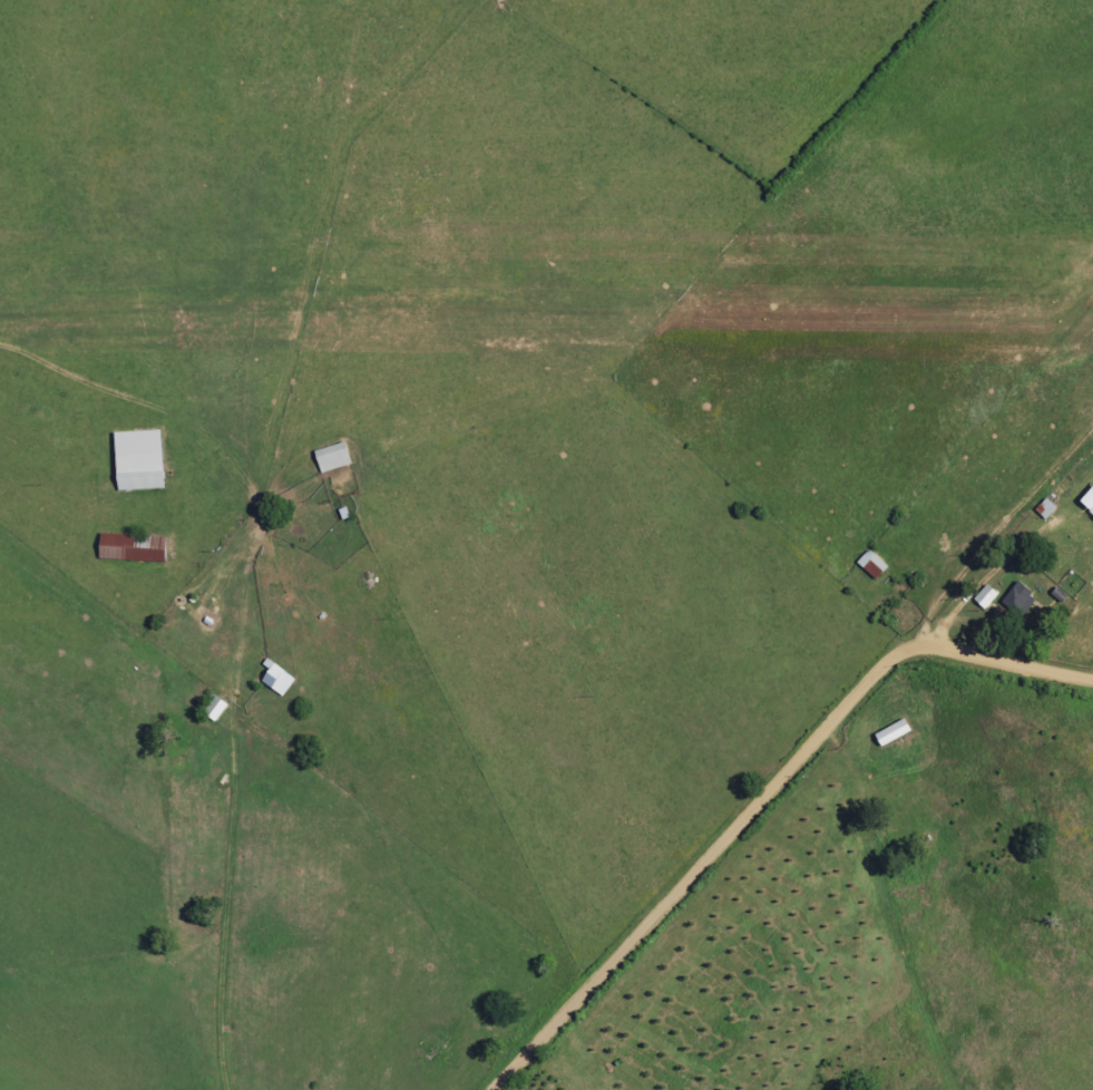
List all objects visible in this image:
building: (137, 548)
building: (871, 565)
road: (969, 585)
building: (984, 597)
building: (1019, 600)
building: (890, 733)
road: (764, 800)

